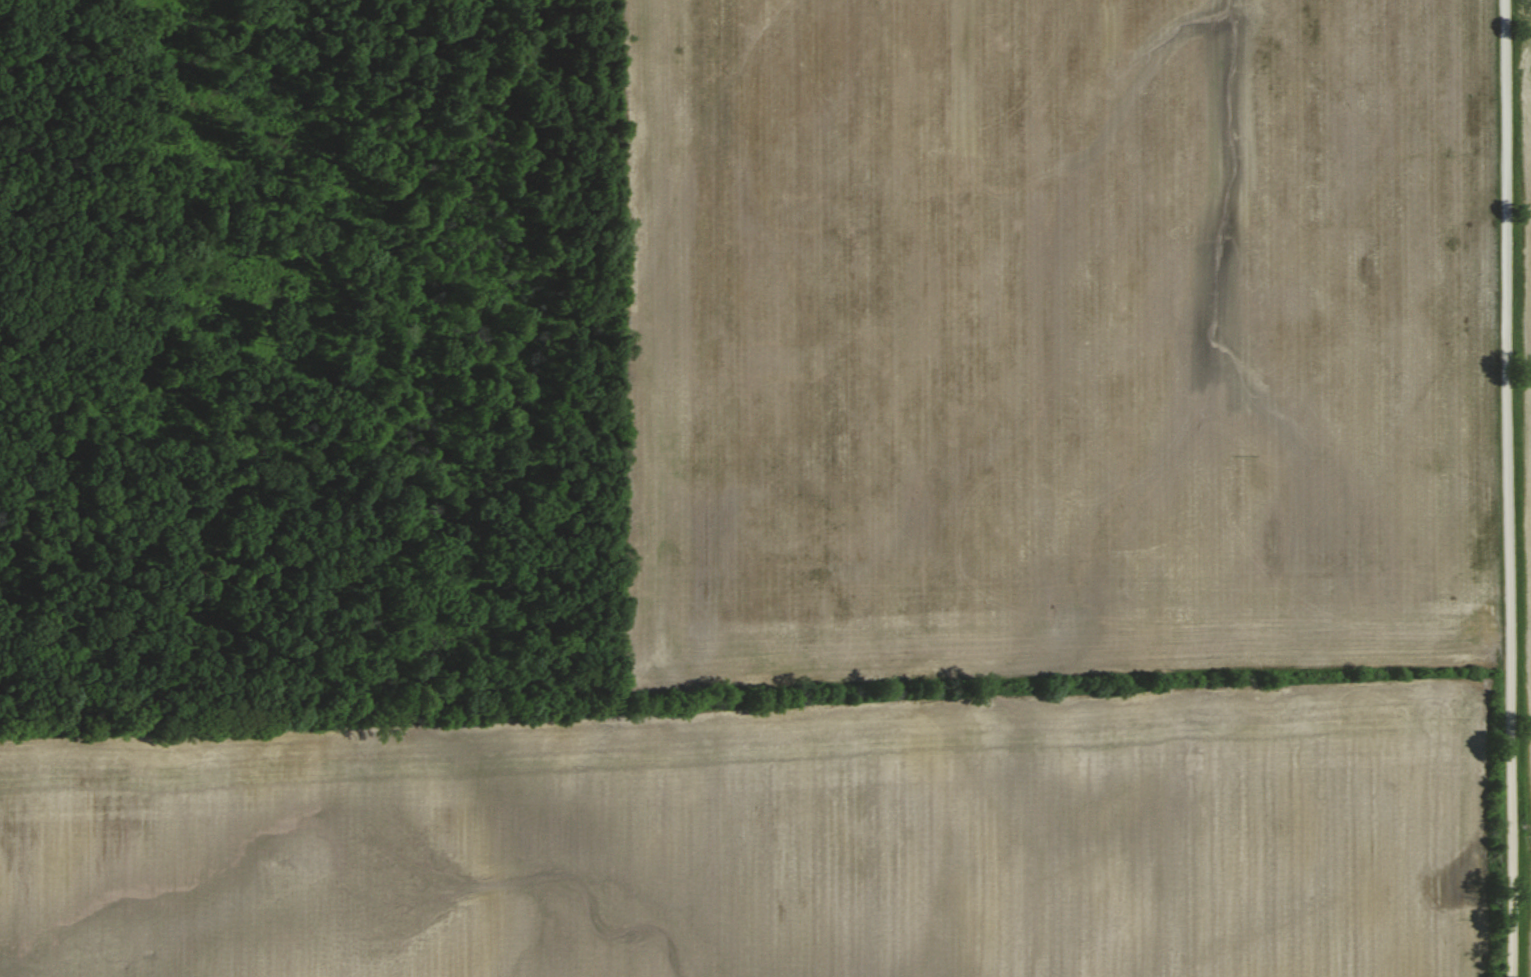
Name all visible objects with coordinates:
road: (1504, 488)

